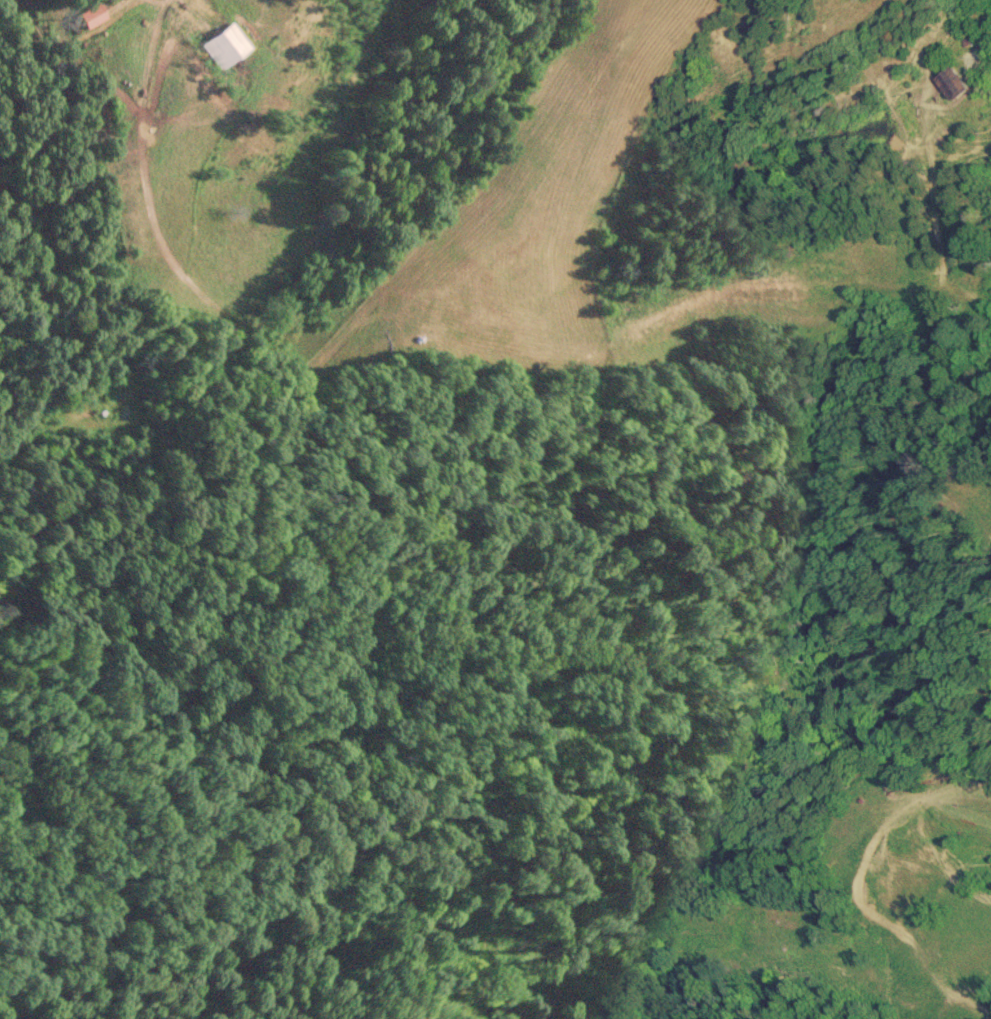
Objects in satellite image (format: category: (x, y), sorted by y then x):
road: (977, 52)

